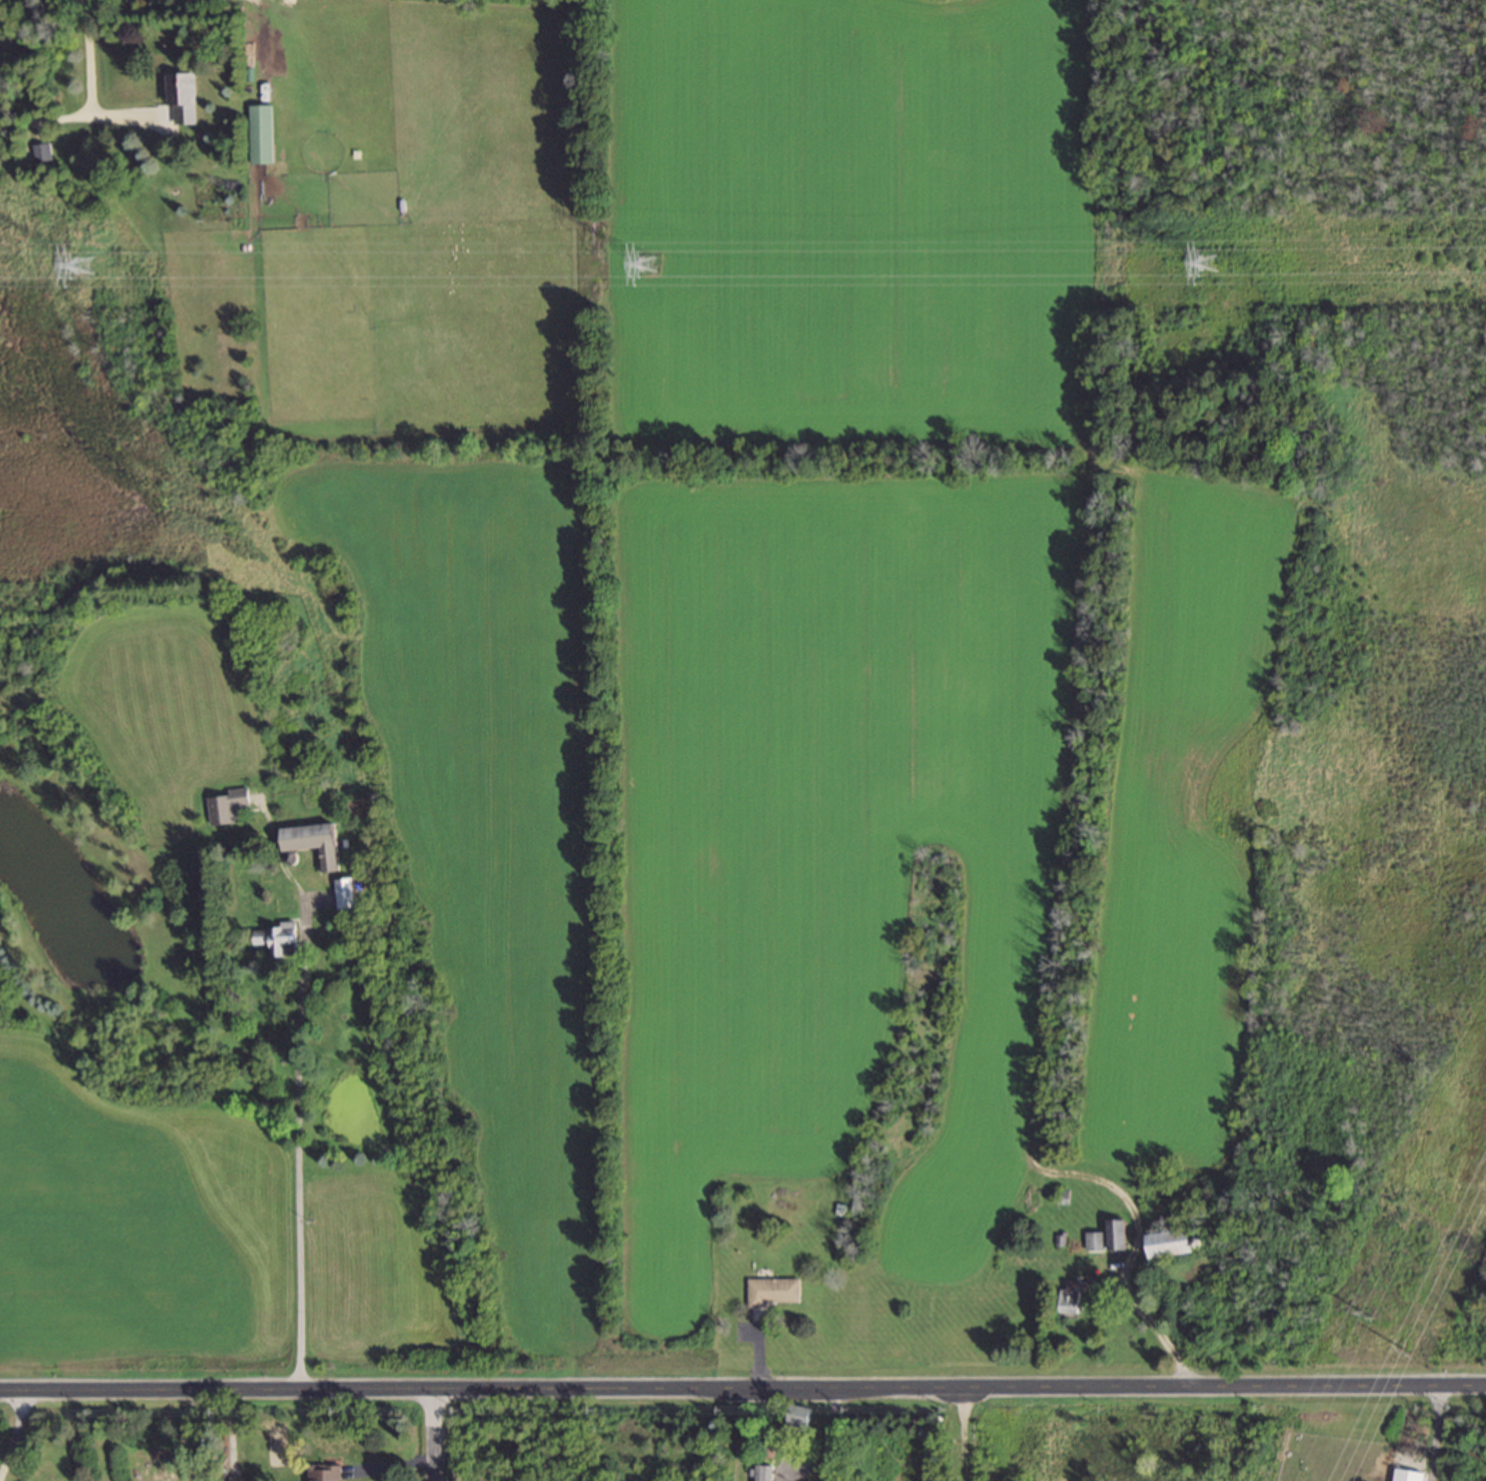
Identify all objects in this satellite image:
road: (256, 35)
road: (89, 87)
building: (183, 100)
building: (263, 136)
building: (43, 155)
power tower: (87, 271)
power tower: (1209, 271)
power tower: (651, 272)
building: (229, 807)
building: (316, 844)
building: (348, 895)
building: (280, 939)
road: (299, 1157)
building: (1118, 1237)
building: (1096, 1243)
building: (1173, 1245)
road: (1120, 1277)
building: (777, 1294)
building: (1074, 1299)
power tower: (1364, 1317)
power tower: (1406, 1353)
road: (742, 1390)
building: (803, 1418)
road: (1435, 1434)
road: (435, 1436)
road: (13, 1437)
building: (326, 1473)
building: (767, 1474)
building: (1409, 1476)

